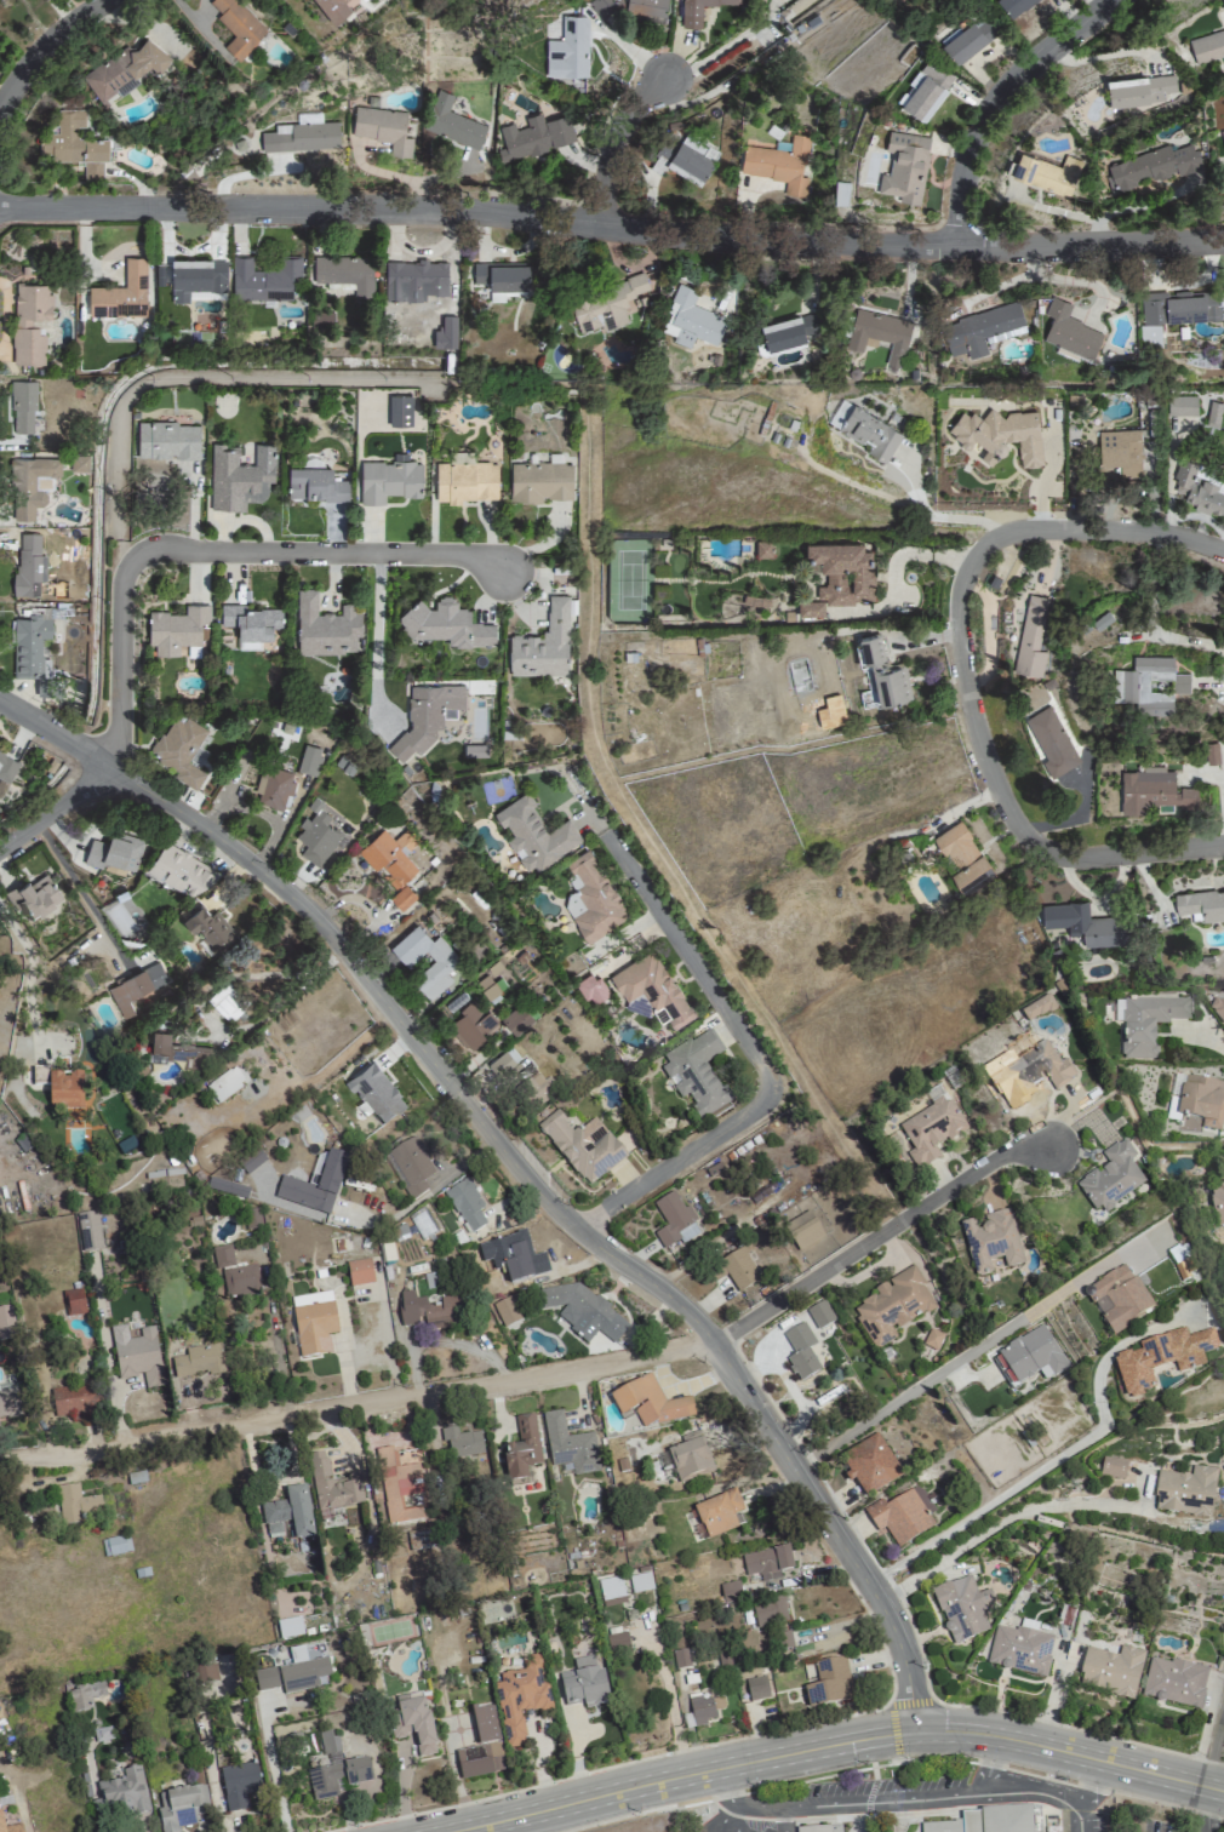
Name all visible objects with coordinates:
building: (362, 0)
building: (1014, 6)
building: (631, 7)
building: (333, 8)
building: (700, 10)
building: (238, 27)
building: (970, 36)
road: (730, 44)
building: (1207, 46)
road: (42, 50)
building: (571, 50)
building: (122, 69)
building: (1139, 87)
building: (927, 90)
road: (1000, 102)
building: (309, 119)
building: (452, 124)
building: (383, 130)
building: (1223, 134)
building: (534, 137)
building: (301, 138)
road: (622, 143)
building: (74, 144)
building: (779, 164)
building: (1152, 164)
building: (905, 165)
building: (1047, 171)
road: (612, 225)
building: (345, 273)
building: (418, 273)
building: (199, 274)
building: (503, 276)
building: (264, 280)
building: (121, 293)
building: (607, 304)
building: (1180, 305)
building: (691, 320)
building: (32, 322)
building: (982, 327)
building: (1070, 328)
building: (789, 331)
building: (1151, 331)
building: (880, 333)
building: (1182, 406)
building: (23, 407)
building: (400, 410)
building: (1213, 414)
building: (865, 429)
building: (1001, 434)
building: (168, 440)
building: (1120, 452)
building: (79, 463)
building: (240, 476)
building: (390, 479)
building: (465, 481)
building: (540, 481)
building: (32, 483)
building: (316, 485)
building: (1197, 490)
road: (939, 517)
road: (208, 555)
road: (920, 555)
building: (29, 566)
building: (843, 572)
building: (811, 607)
road: (1152, 618)
building: (252, 624)
building: (445, 624)
building: (325, 626)
building: (177, 629)
road: (372, 630)
building: (1031, 637)
building: (543, 645)
building: (30, 646)
road: (970, 676)
building: (1148, 681)
building: (44, 686)
building: (427, 716)
road: (64, 738)
building: (1051, 739)
building: (179, 749)
building: (1211, 754)
building: (309, 761)
building: (6, 767)
building: (274, 788)
building: (1152, 790)
building: (534, 834)
building: (318, 835)
building: (115, 853)
building: (390, 854)
building: (963, 857)
building: (181, 870)
building: (34, 897)
road: (82, 897)
building: (402, 898)
building: (591, 898)
building: (1201, 904)
building: (1087, 924)
building: (207, 926)
building: (444, 964)
road: (29, 974)
building: (135, 985)
building: (487, 987)
building: (591, 987)
building: (652, 987)
building: (227, 1001)
building: (1037, 1009)
building: (1218, 1009)
building: (516, 1020)
building: (1148, 1024)
building: (473, 1025)
road: (1218, 1046)
building: (182, 1053)
road: (336, 1061)
road: (756, 1061)
building: (503, 1063)
building: (1031, 1072)
building: (40, 1074)
building: (696, 1074)
building: (224, 1084)
building: (64, 1090)
building: (376, 1093)
building: (1195, 1103)
building: (930, 1132)
building: (582, 1145)
building: (251, 1162)
building: (411, 1164)
road: (524, 1166)
building: (1111, 1178)
building: (327, 1181)
building: (216, 1185)
road: (424, 1193)
building: (1217, 1203)
building: (465, 1204)
building: (252, 1219)
building: (673, 1221)
building: (87, 1231)
building: (802, 1231)
road: (881, 1236)
building: (991, 1243)
building: (739, 1269)
building: (359, 1272)
building: (234, 1275)
building: (1119, 1300)
building: (73, 1301)
building: (892, 1306)
building: (505, 1311)
building: (430, 1312)
building: (582, 1312)
building: (819, 1313)
building: (6, 1322)
building: (313, 1323)
road: (276, 1353)
building: (137, 1355)
building: (802, 1356)
building: (1030, 1356)
building: (1161, 1359)
building: (199, 1361)
road: (934, 1378)
building: (8, 1399)
road: (354, 1401)
building: (74, 1402)
building: (648, 1403)
building: (462, 1443)
building: (568, 1445)
building: (521, 1450)
building: (690, 1458)
building: (869, 1465)
building: (1113, 1467)
road: (1016, 1483)
building: (331, 1484)
building: (397, 1485)
building: (1185, 1492)
building: (75, 1504)
building: (288, 1513)
building: (717, 1513)
building: (902, 1515)
road: (994, 1525)
building: (115, 1546)
building: (767, 1562)
building: (640, 1582)
building: (611, 1591)
building: (730, 1592)
building: (961, 1608)
building: (768, 1611)
building: (288, 1627)
building: (617, 1643)
building: (1019, 1649)
building: (680, 1658)
building: (1111, 1671)
building: (206, 1673)
building: (293, 1673)
building: (829, 1682)
building: (1174, 1682)
building: (583, 1684)
building: (756, 1688)
building: (84, 1695)
building: (521, 1698)
building: (698, 1711)
building: (412, 1722)
road: (1213, 1742)
building: (328, 1744)
building: (481, 1746)
road: (1070, 1754)
road: (887, 1762)
road: (988, 1764)
road: (273, 1771)
building: (336, 1777)
road: (675, 1780)
road: (1093, 1784)
building: (239, 1785)
building: (122, 1793)
road: (893, 1799)
building: (181, 1808)
road: (1206, 1809)
road: (722, 1819)
road: (737, 1819)
road: (1087, 1819)
road: (780, 1820)
building: (989, 1821)
building: (10, 1827)
building: (818, 1828)

